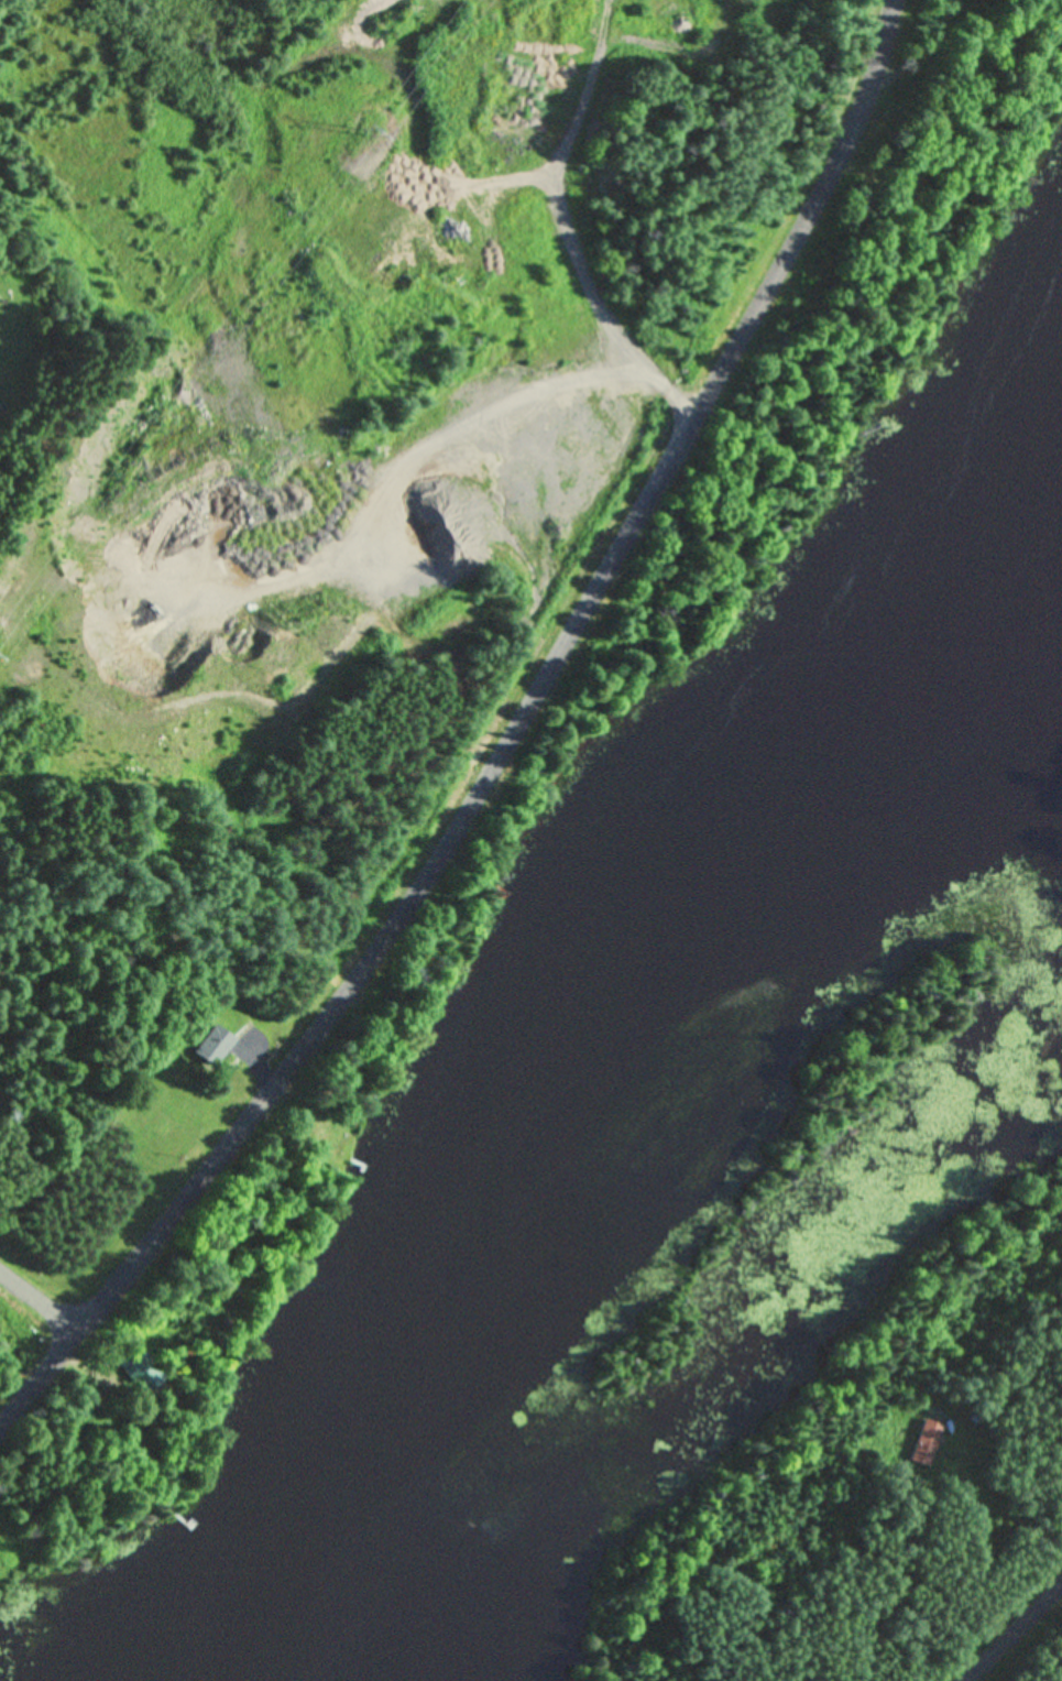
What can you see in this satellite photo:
power tower: (370, 130)
park: (342, 408)
road: (502, 751)
river: (600, 1029)
building: (214, 1048)
road: (37, 1311)
building: (140, 1373)
building: (927, 1444)
road: (1014, 1633)

